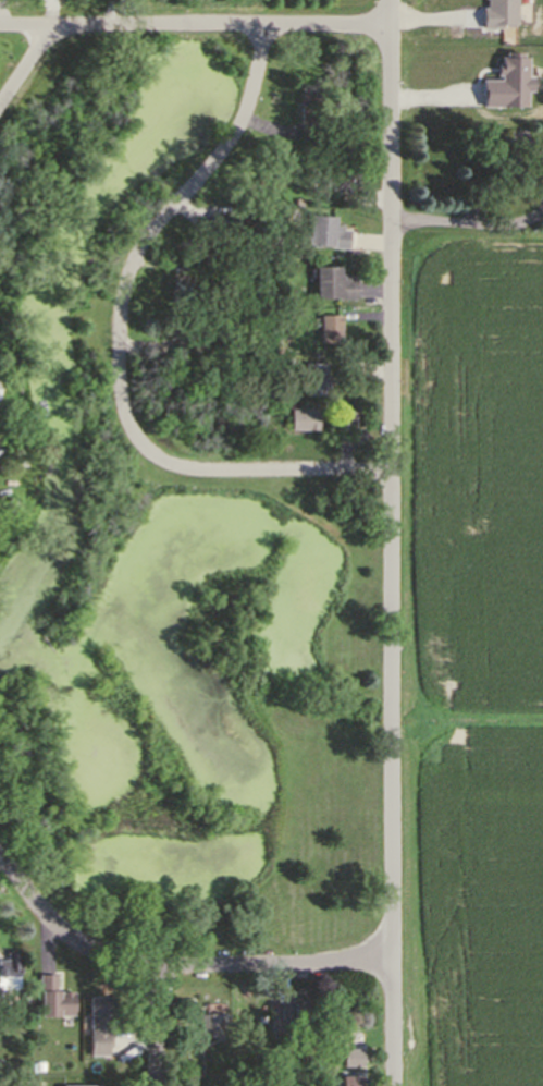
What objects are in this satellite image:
road: (109, 12)
road: (198, 26)
road: (25, 64)
building: (311, 114)
building: (347, 124)
building: (335, 181)
building: (297, 200)
road: (470, 223)
building: (220, 229)
building: (326, 234)
road: (143, 253)
building: (333, 279)
building: (180, 290)
building: (215, 296)
building: (181, 328)
building: (226, 328)
building: (330, 330)
building: (316, 374)
building: (304, 413)
building: (343, 419)
road: (295, 473)
building: (11, 505)
road: (395, 542)
road: (174, 968)
building: (10, 969)
building: (57, 998)
building: (284, 1008)
building: (301, 1016)
building: (210, 1021)
building: (102, 1026)
road: (166, 1027)
building: (354, 1057)
building: (39, 1064)
building: (335, 1066)
building: (348, 1081)

